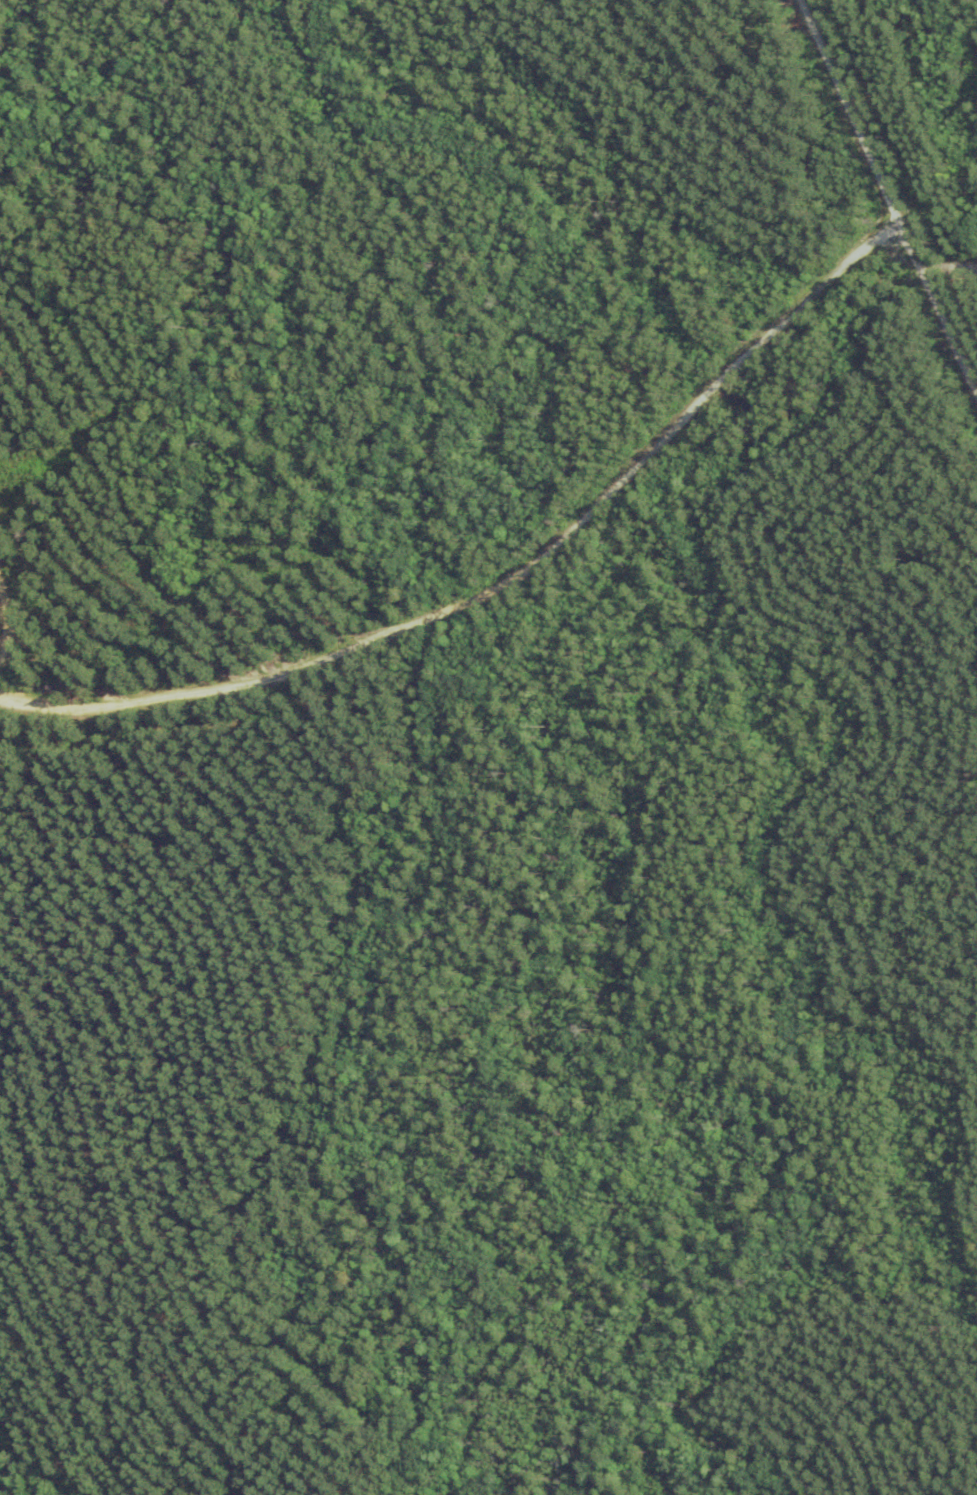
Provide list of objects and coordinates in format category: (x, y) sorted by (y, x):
road: (883, 182)
road: (510, 586)

